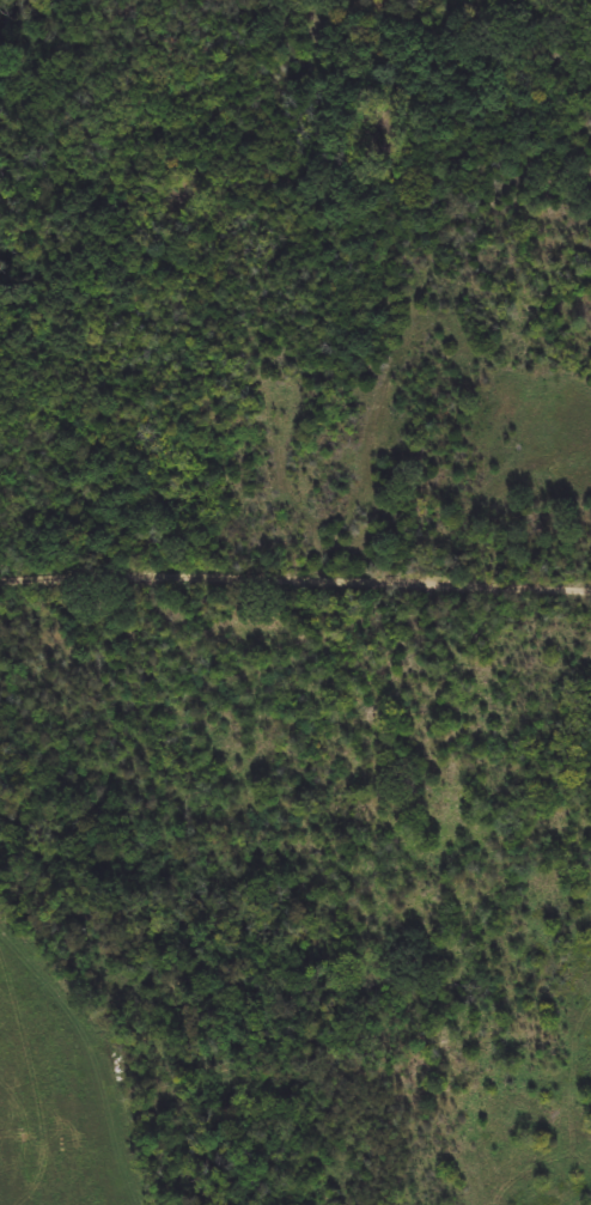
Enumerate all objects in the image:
road: (295, 578)

